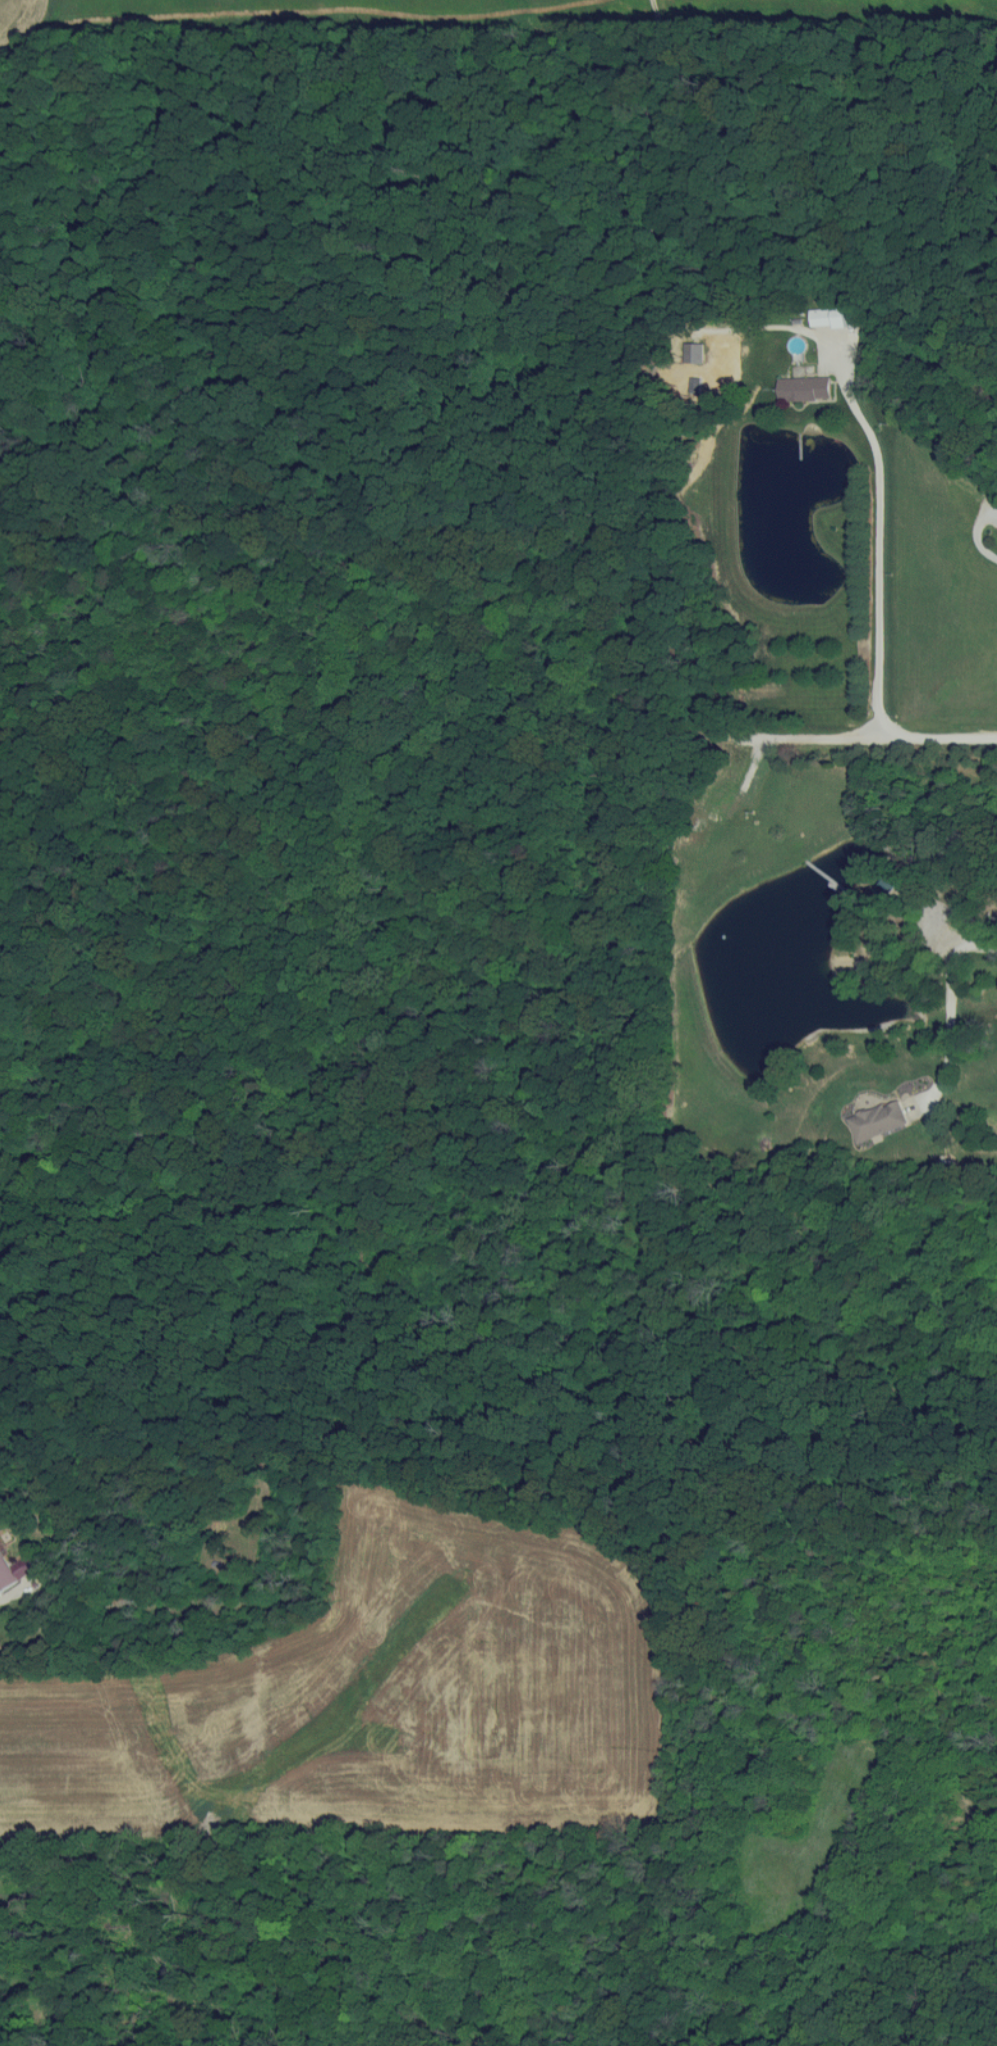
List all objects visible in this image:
building: (828, 316)
building: (805, 388)
road: (975, 537)
road: (875, 543)
road: (946, 736)
road: (946, 1006)
building: (877, 1120)
building: (10, 1574)

